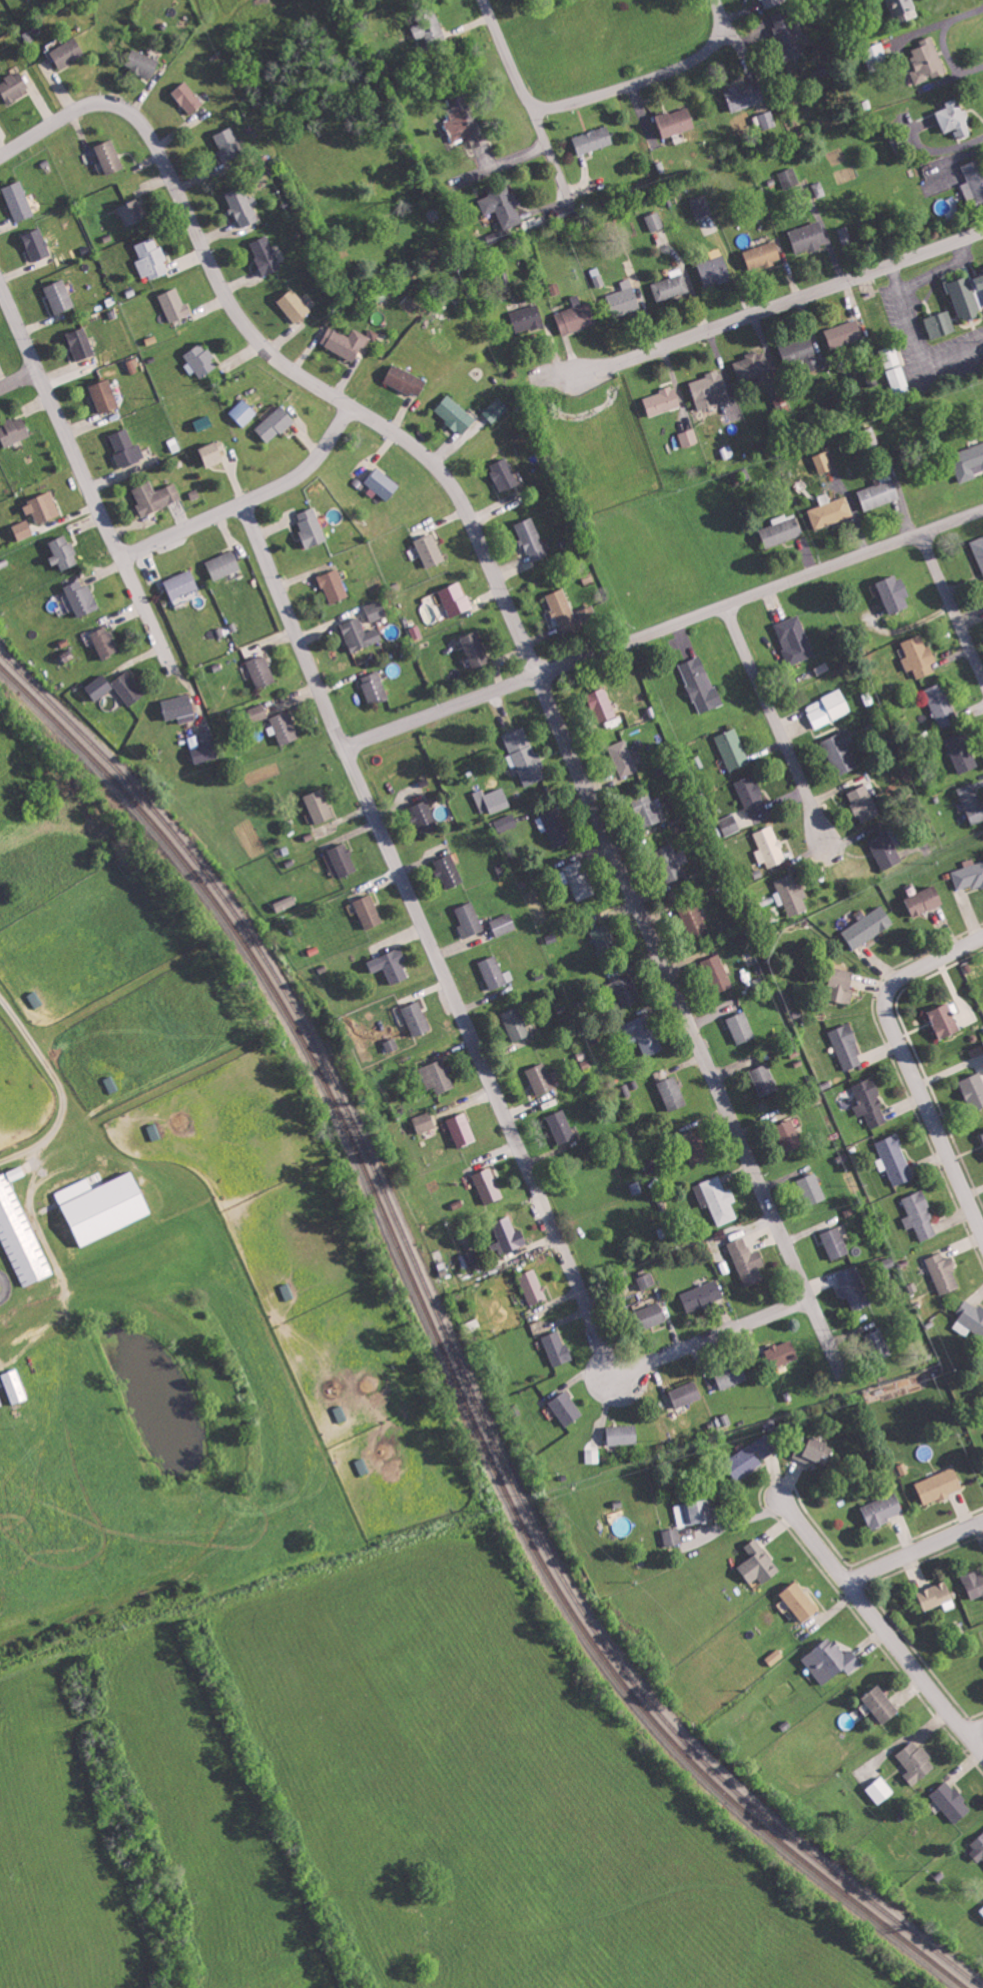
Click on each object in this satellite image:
building: (903, 9)
building: (429, 29)
building: (788, 35)
road: (739, 43)
building: (68, 52)
building: (877, 56)
building: (927, 60)
building: (143, 62)
building: (14, 86)
building: (746, 95)
building: (188, 97)
road: (592, 97)
building: (955, 118)
building: (767, 119)
building: (675, 121)
building: (594, 139)
building: (229, 144)
road: (524, 149)
building: (110, 156)
building: (789, 177)
building: (976, 178)
building: (819, 189)
building: (19, 201)
building: (502, 205)
building: (243, 206)
building: (701, 206)
building: (132, 212)
building: (655, 221)
building: (845, 235)
building: (809, 237)
building: (37, 244)
building: (266, 255)
building: (763, 255)
building: (151, 259)
building: (716, 270)
road: (941, 270)
building: (981, 278)
building: (670, 287)
building: (60, 296)
building: (966, 298)
building: (625, 300)
road: (782, 301)
building: (175, 304)
building: (294, 305)
building: (577, 316)
building: (528, 318)
building: (940, 324)
building: (845, 333)
road: (915, 339)
building: (347, 341)
building: (81, 344)
building: (805, 354)
road: (273, 357)
building: (201, 360)
building: (753, 367)
building: (899, 379)
road: (20, 380)
building: (406, 380)
building: (710, 390)
building: (105, 396)
building: (663, 401)
building: (782, 402)
building: (497, 409)
building: (243, 412)
building: (456, 414)
building: (204, 422)
building: (275, 423)
building: (14, 430)
building: (689, 437)
building: (126, 448)
building: (726, 451)
building: (214, 454)
building: (823, 462)
building: (968, 462)
road: (84, 473)
building: (505, 474)
building: (383, 484)
building: (880, 494)
building: (155, 497)
road: (248, 499)
building: (43, 507)
building: (830, 511)
building: (311, 527)
building: (23, 529)
building: (782, 530)
building: (532, 540)
building: (978, 549)
building: (430, 550)
building: (64, 552)
building: (224, 565)
building: (182, 584)
building: (334, 586)
building: (896, 593)
building: (82, 598)
building: (455, 599)
road: (951, 607)
building: (377, 610)
building: (571, 613)
road: (295, 625)
road: (664, 629)
building: (360, 634)
building: (795, 639)
building: (105, 642)
building: (476, 649)
building: (919, 656)
building: (262, 671)
building: (701, 684)
building: (100, 686)
building: (129, 687)
building: (374, 687)
building: (604, 704)
building: (942, 705)
building: (180, 708)
building: (828, 709)
building: (258, 712)
road: (774, 725)
building: (285, 728)
building: (204, 748)
building: (732, 750)
building: (842, 751)
building: (962, 752)
building: (525, 756)
building: (623, 758)
building: (751, 797)
building: (492, 800)
building: (972, 802)
building: (864, 803)
building: (320, 806)
building: (648, 809)
building: (425, 817)
building: (506, 823)
building: (730, 824)
building: (554, 827)
building: (768, 847)
building: (886, 851)
building: (343, 859)
building: (671, 863)
building: (448, 871)
building: (970, 875)
building: (579, 880)
building: (792, 894)
building: (926, 899)
building: (286, 903)
building: (368, 912)
building: (469, 920)
building: (698, 923)
building: (503, 924)
building: (869, 925)
building: (604, 937)
building: (391, 965)
building: (493, 972)
building: (717, 972)
road: (901, 977)
building: (844, 984)
building: (627, 990)
building: (417, 1018)
building: (946, 1020)
building: (516, 1023)
road: (687, 1025)
building: (741, 1026)
building: (644, 1035)
building: (392, 1044)
building: (847, 1045)
road: (481, 1065)
building: (438, 1075)
building: (541, 1077)
road: (58, 1079)
building: (765, 1079)
building: (975, 1089)
building: (673, 1092)
building: (870, 1101)
building: (425, 1122)
building: (561, 1126)
building: (462, 1129)
building: (789, 1134)
building: (695, 1146)
road: (943, 1148)
building: (896, 1159)
building: (17, 1172)
building: (488, 1185)
building: (813, 1188)
building: (717, 1198)
building: (109, 1207)
building: (919, 1215)
building: (509, 1234)
building: (20, 1235)
building: (835, 1242)
building: (468, 1259)
building: (748, 1261)
building: (944, 1272)
building: (646, 1280)
building: (533, 1286)
building: (853, 1287)
building: (287, 1291)
building: (703, 1295)
building: (654, 1314)
building: (970, 1318)
road: (711, 1338)
building: (879, 1340)
building: (557, 1347)
railway: (454, 1348)
building: (783, 1352)
railway: (447, 1356)
building: (732, 1375)
building: (15, 1385)
building: (687, 1393)
building: (566, 1408)
building: (623, 1434)
building: (765, 1445)
building: (816, 1451)
building: (593, 1455)
building: (745, 1461)
building: (940, 1485)
building: (884, 1509)
building: (695, 1512)
building: (672, 1536)
road: (915, 1548)
building: (759, 1563)
building: (975, 1584)
building: (801, 1601)
road: (879, 1628)
building: (831, 1660)
building: (883, 1704)
road: (974, 1732)
building: (916, 1762)
building: (951, 1801)
building: (977, 1848)
building: (982, 1911)

